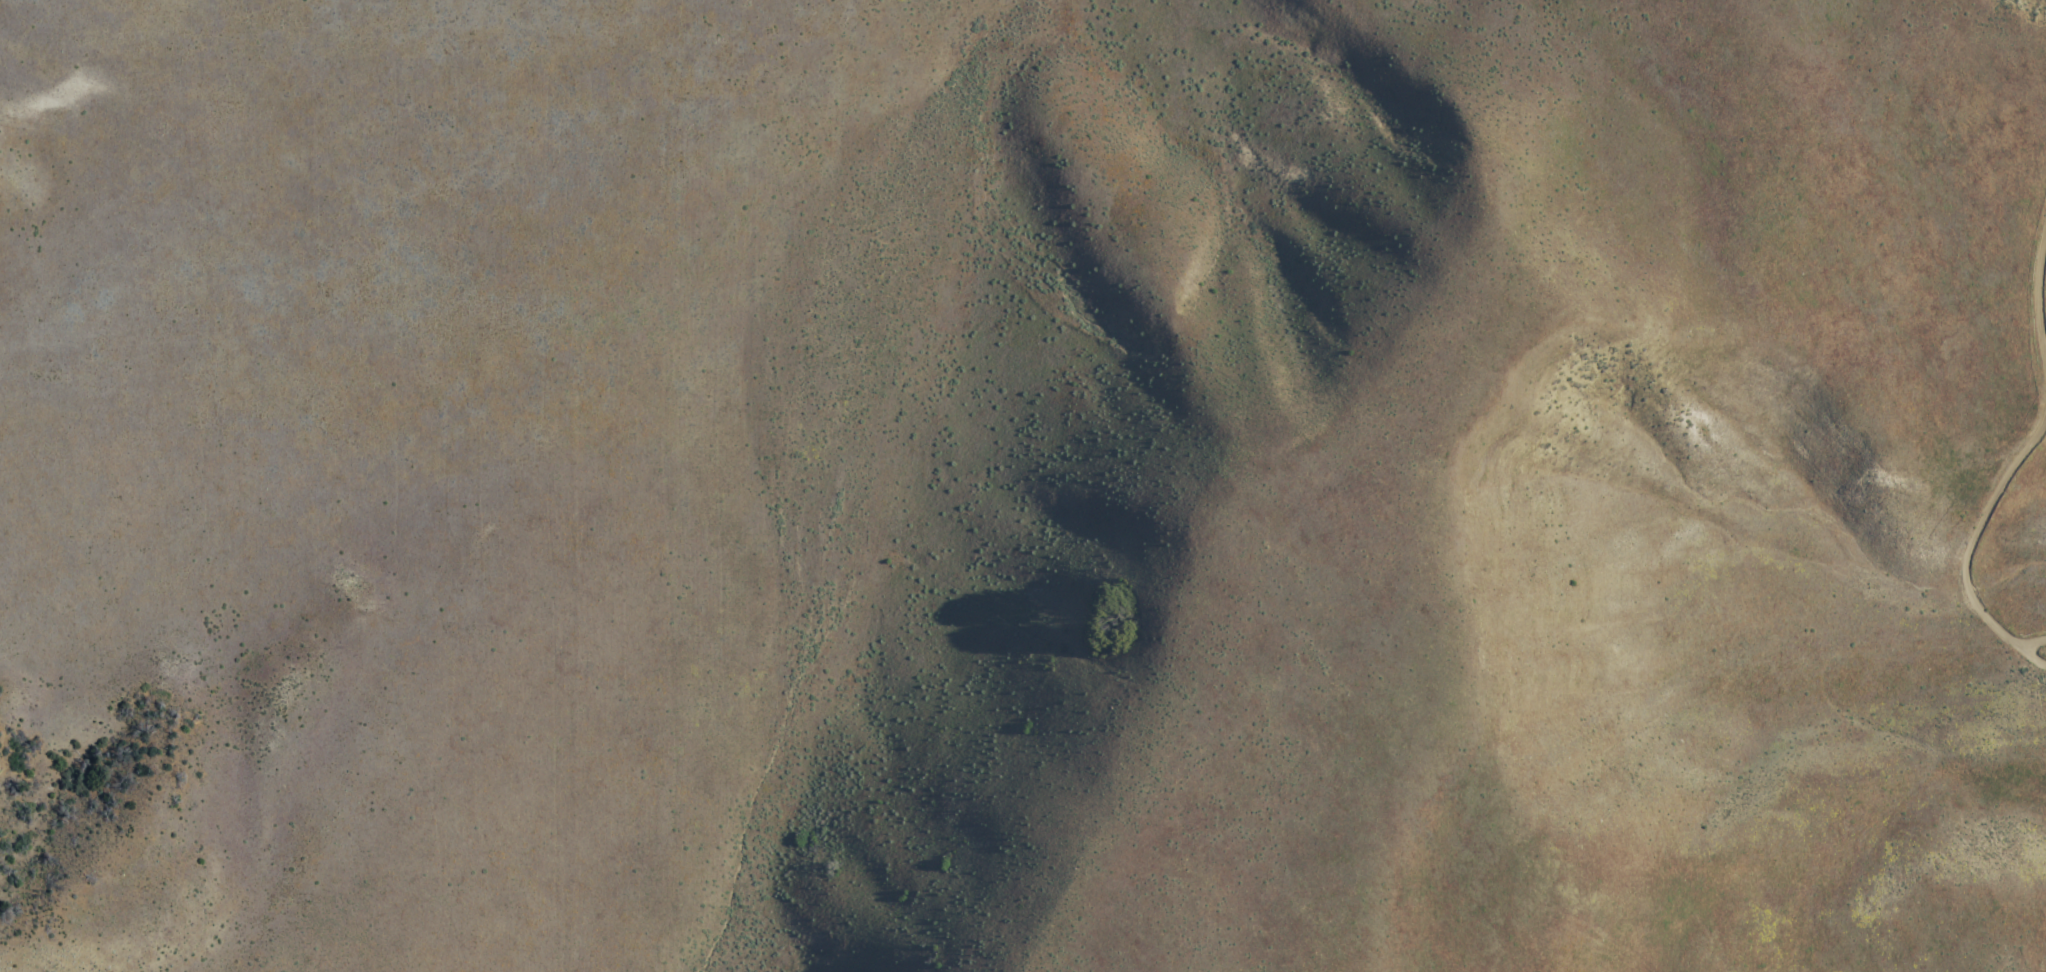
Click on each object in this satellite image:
road: (2038, 289)
road: (1976, 529)
road: (2032, 642)
road: (2032, 654)

